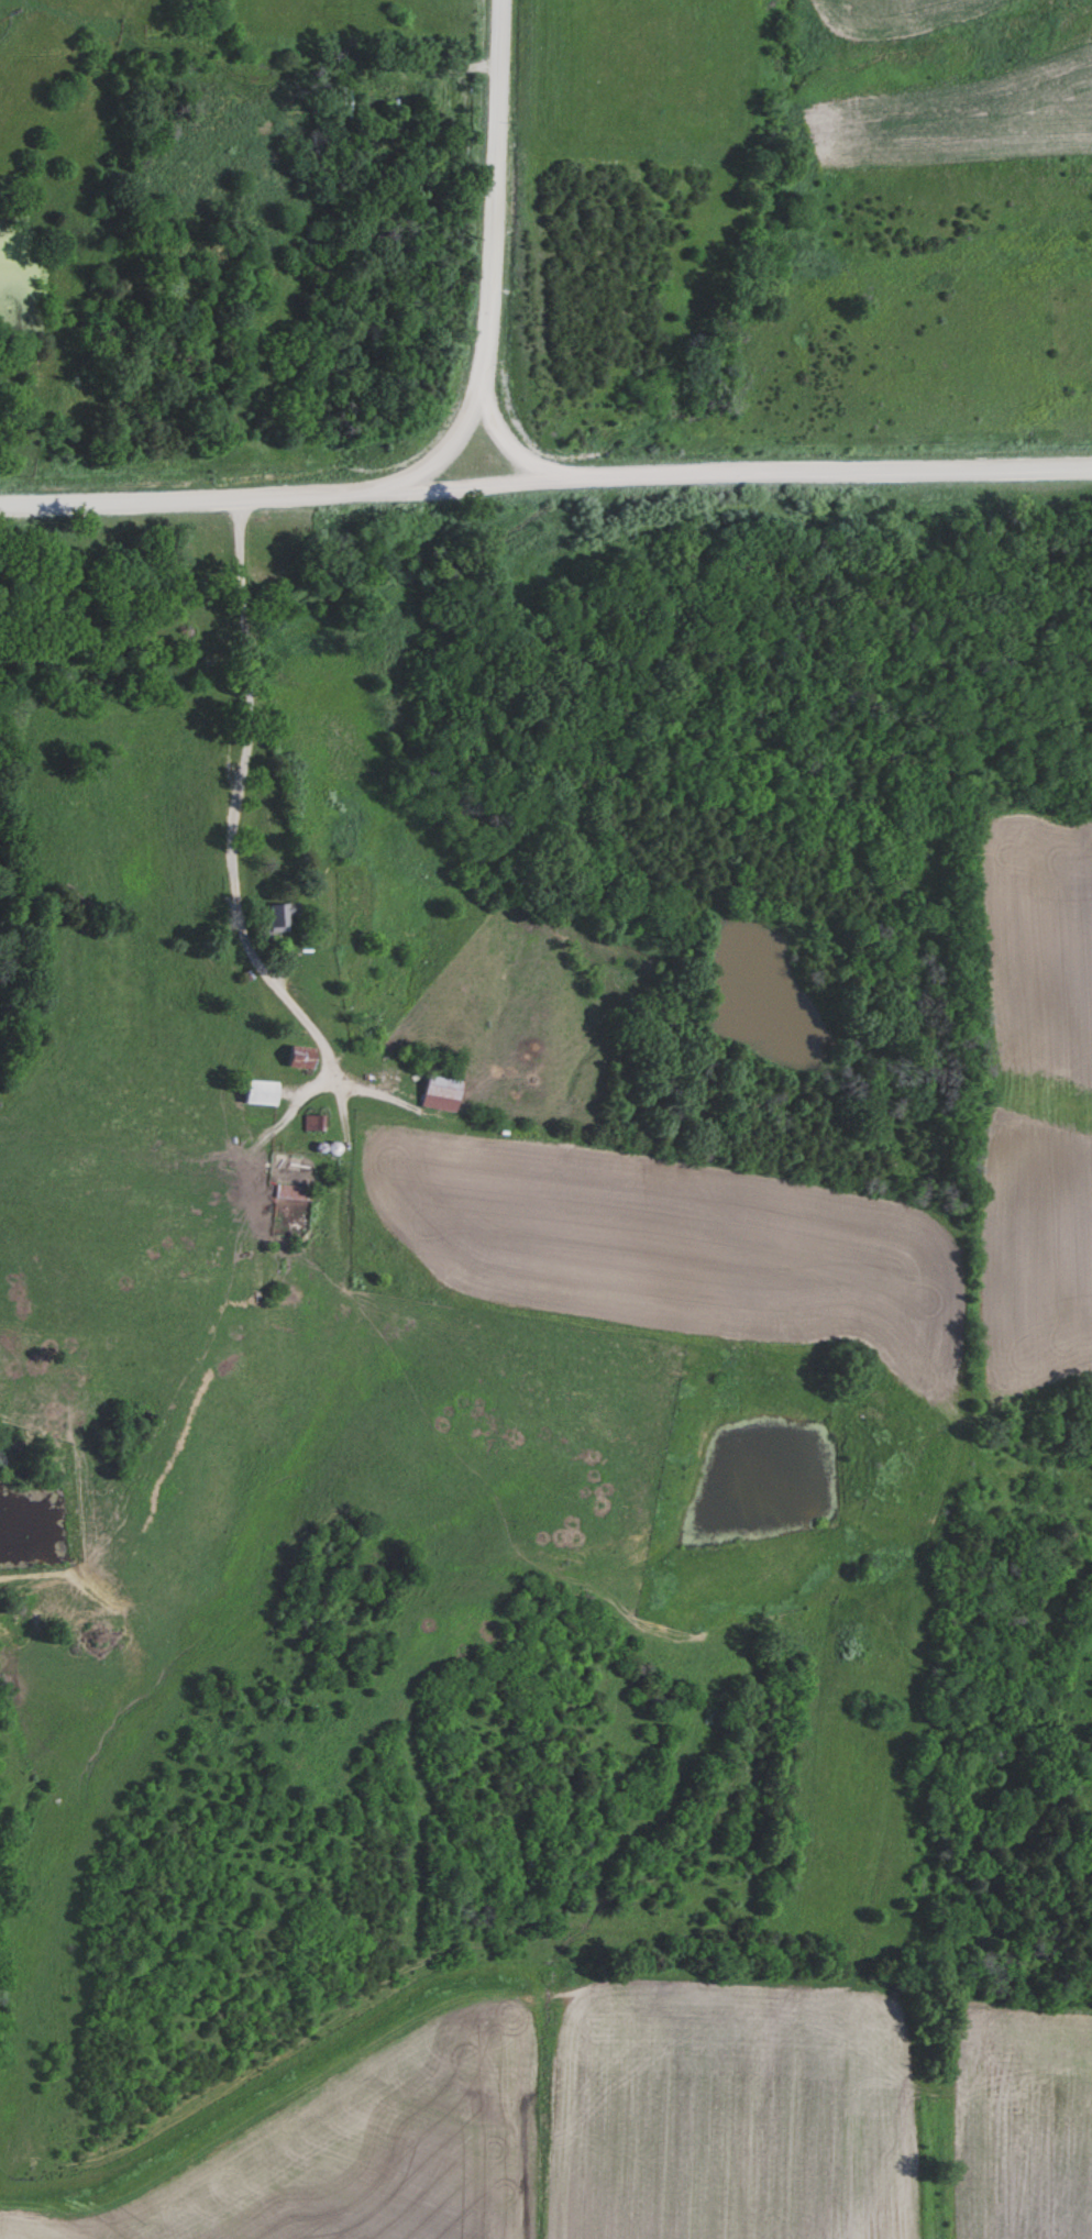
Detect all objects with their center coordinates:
road: (490, 257)
road: (504, 433)
road: (544, 475)
road: (231, 895)
building: (278, 915)
building: (293, 1056)
building: (254, 1091)
building: (435, 1091)

